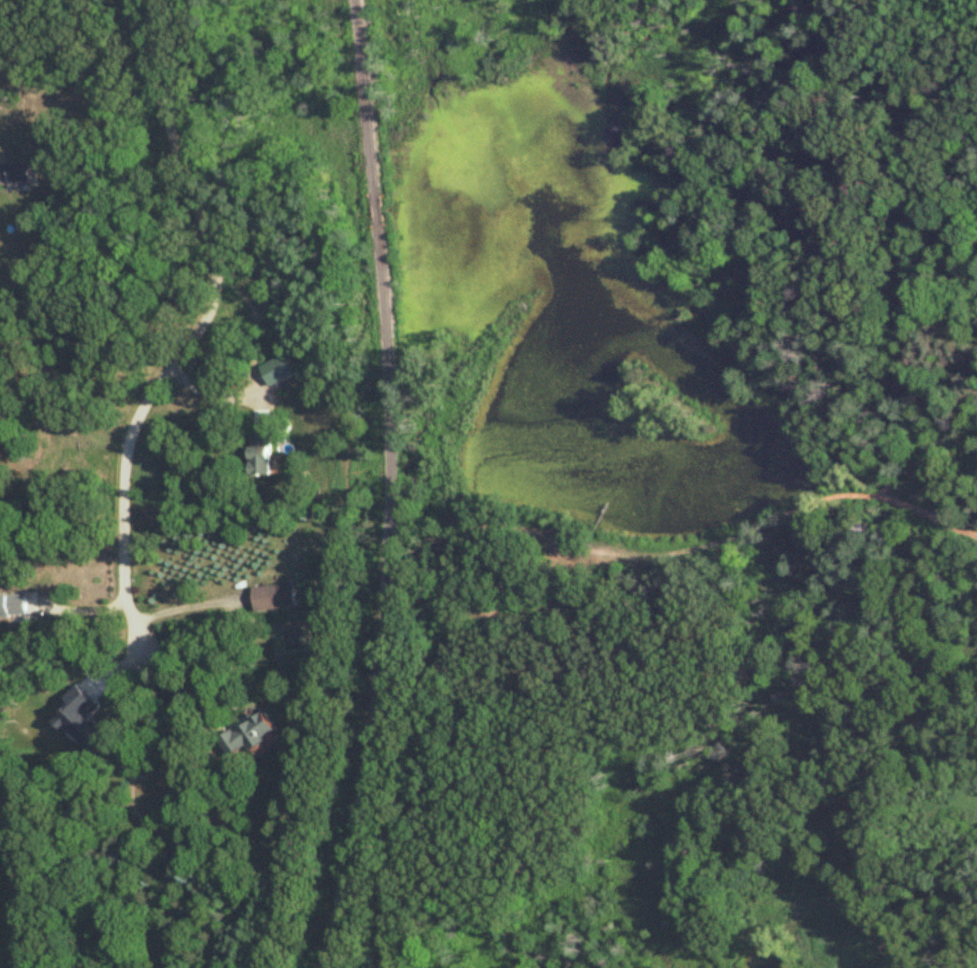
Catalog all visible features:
building: (15, 173)
road: (191, 327)
road: (211, 394)
building: (259, 449)
road: (391, 486)
building: (274, 597)
building: (12, 606)
road: (190, 606)
road: (180, 686)
building: (247, 733)

